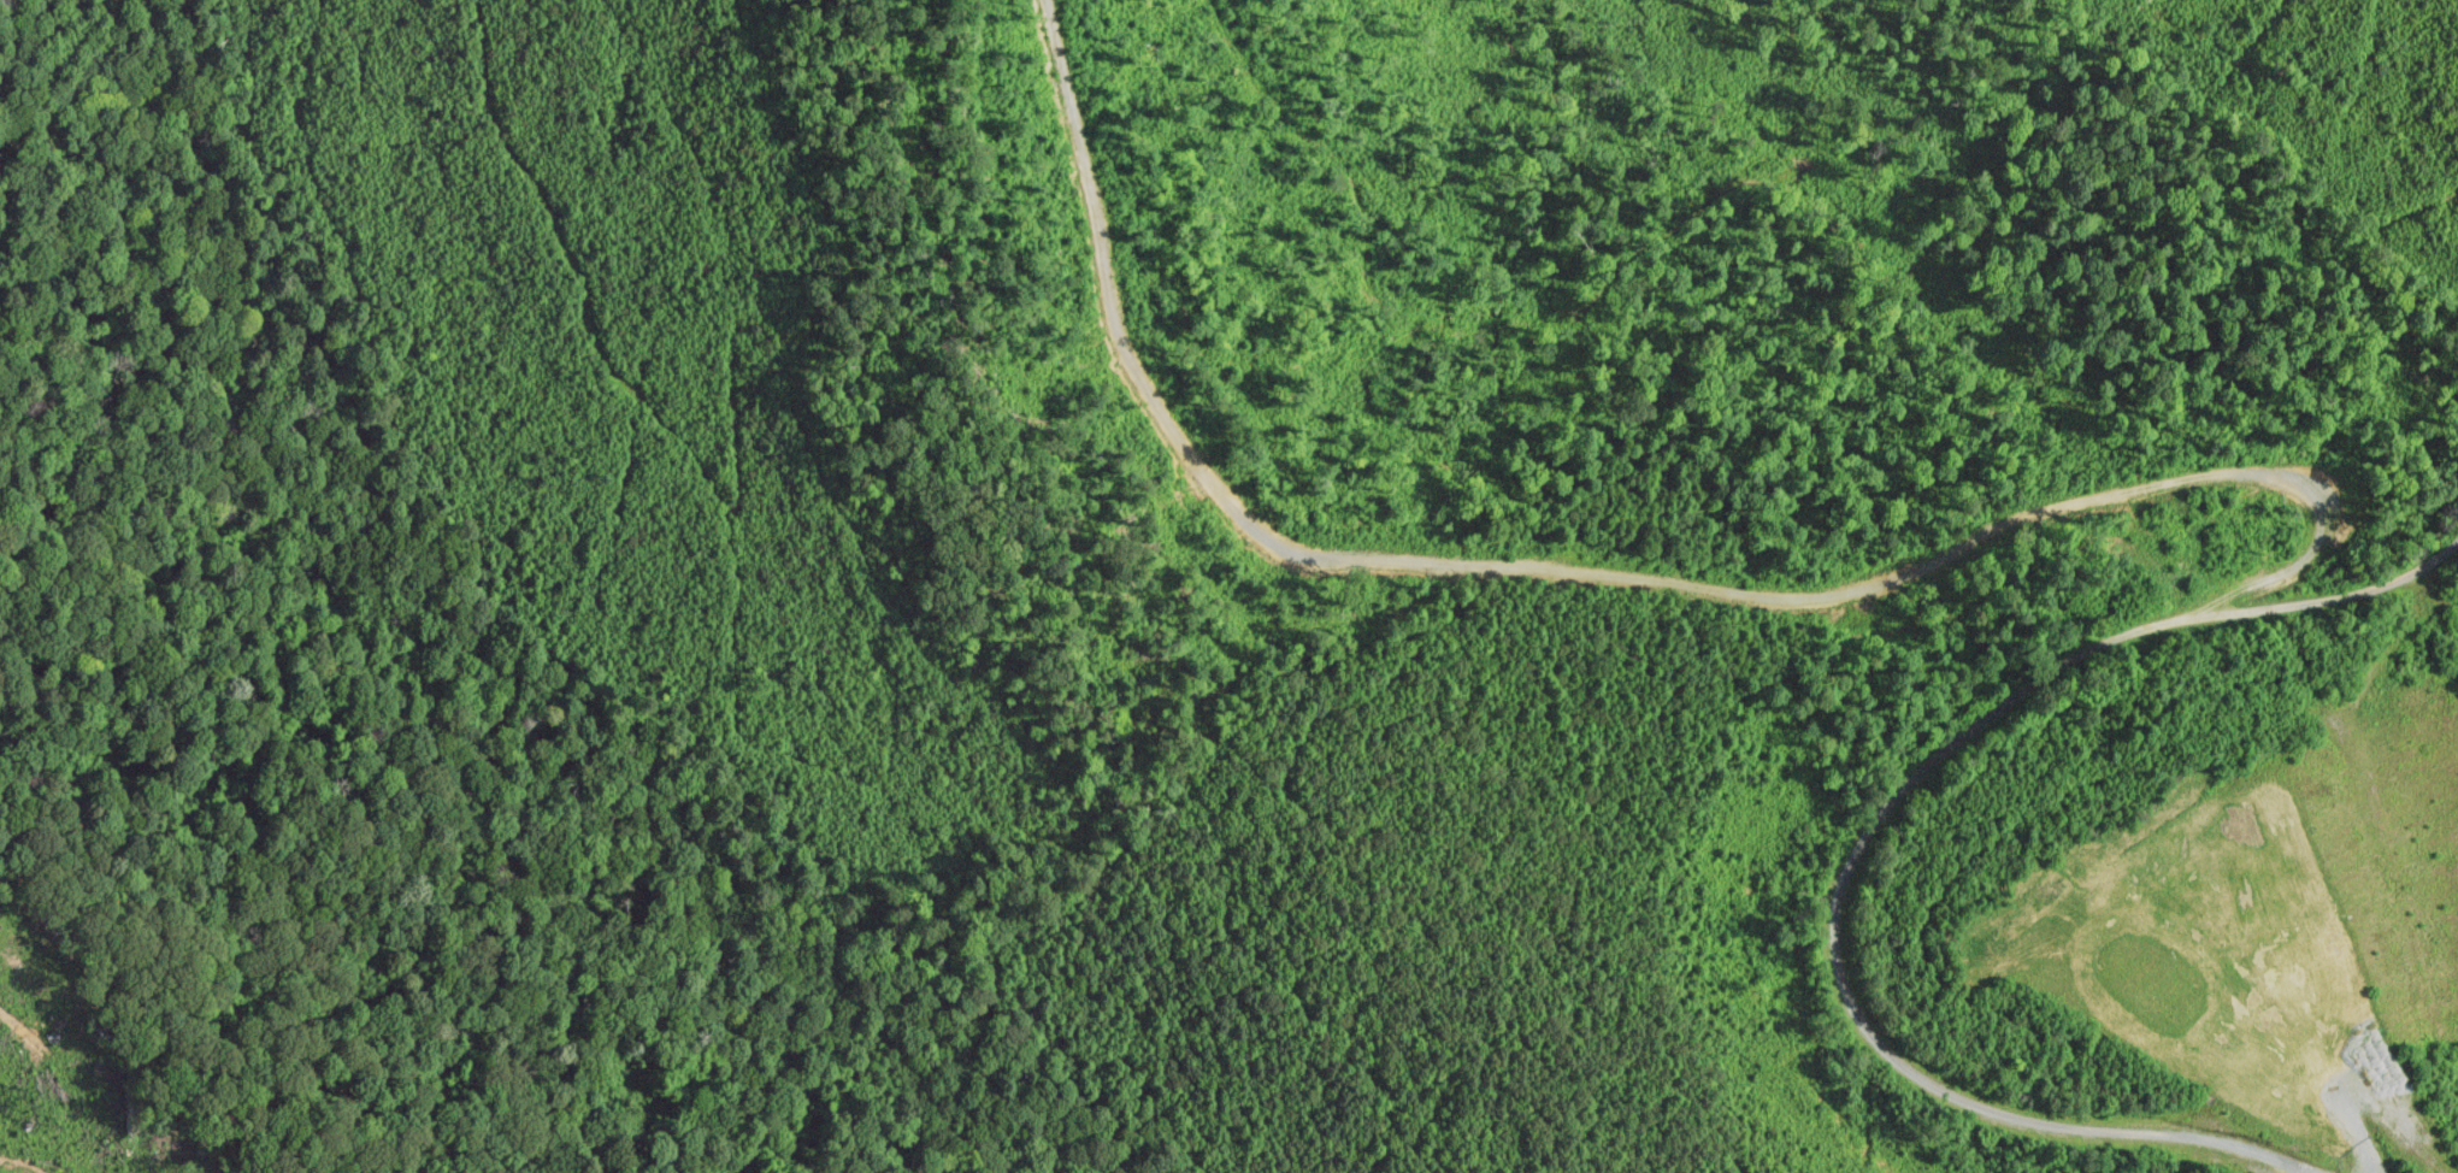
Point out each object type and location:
building: (2283, 788)

